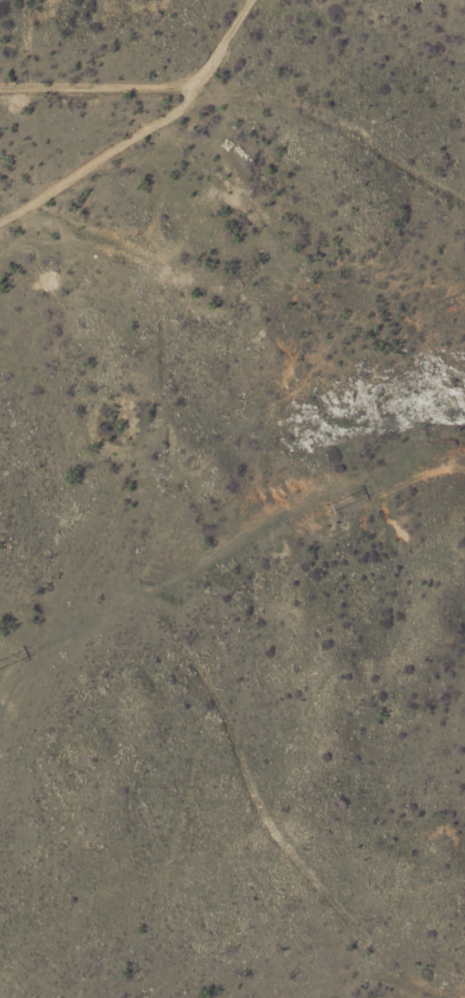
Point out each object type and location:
power tower: (326, 509)

